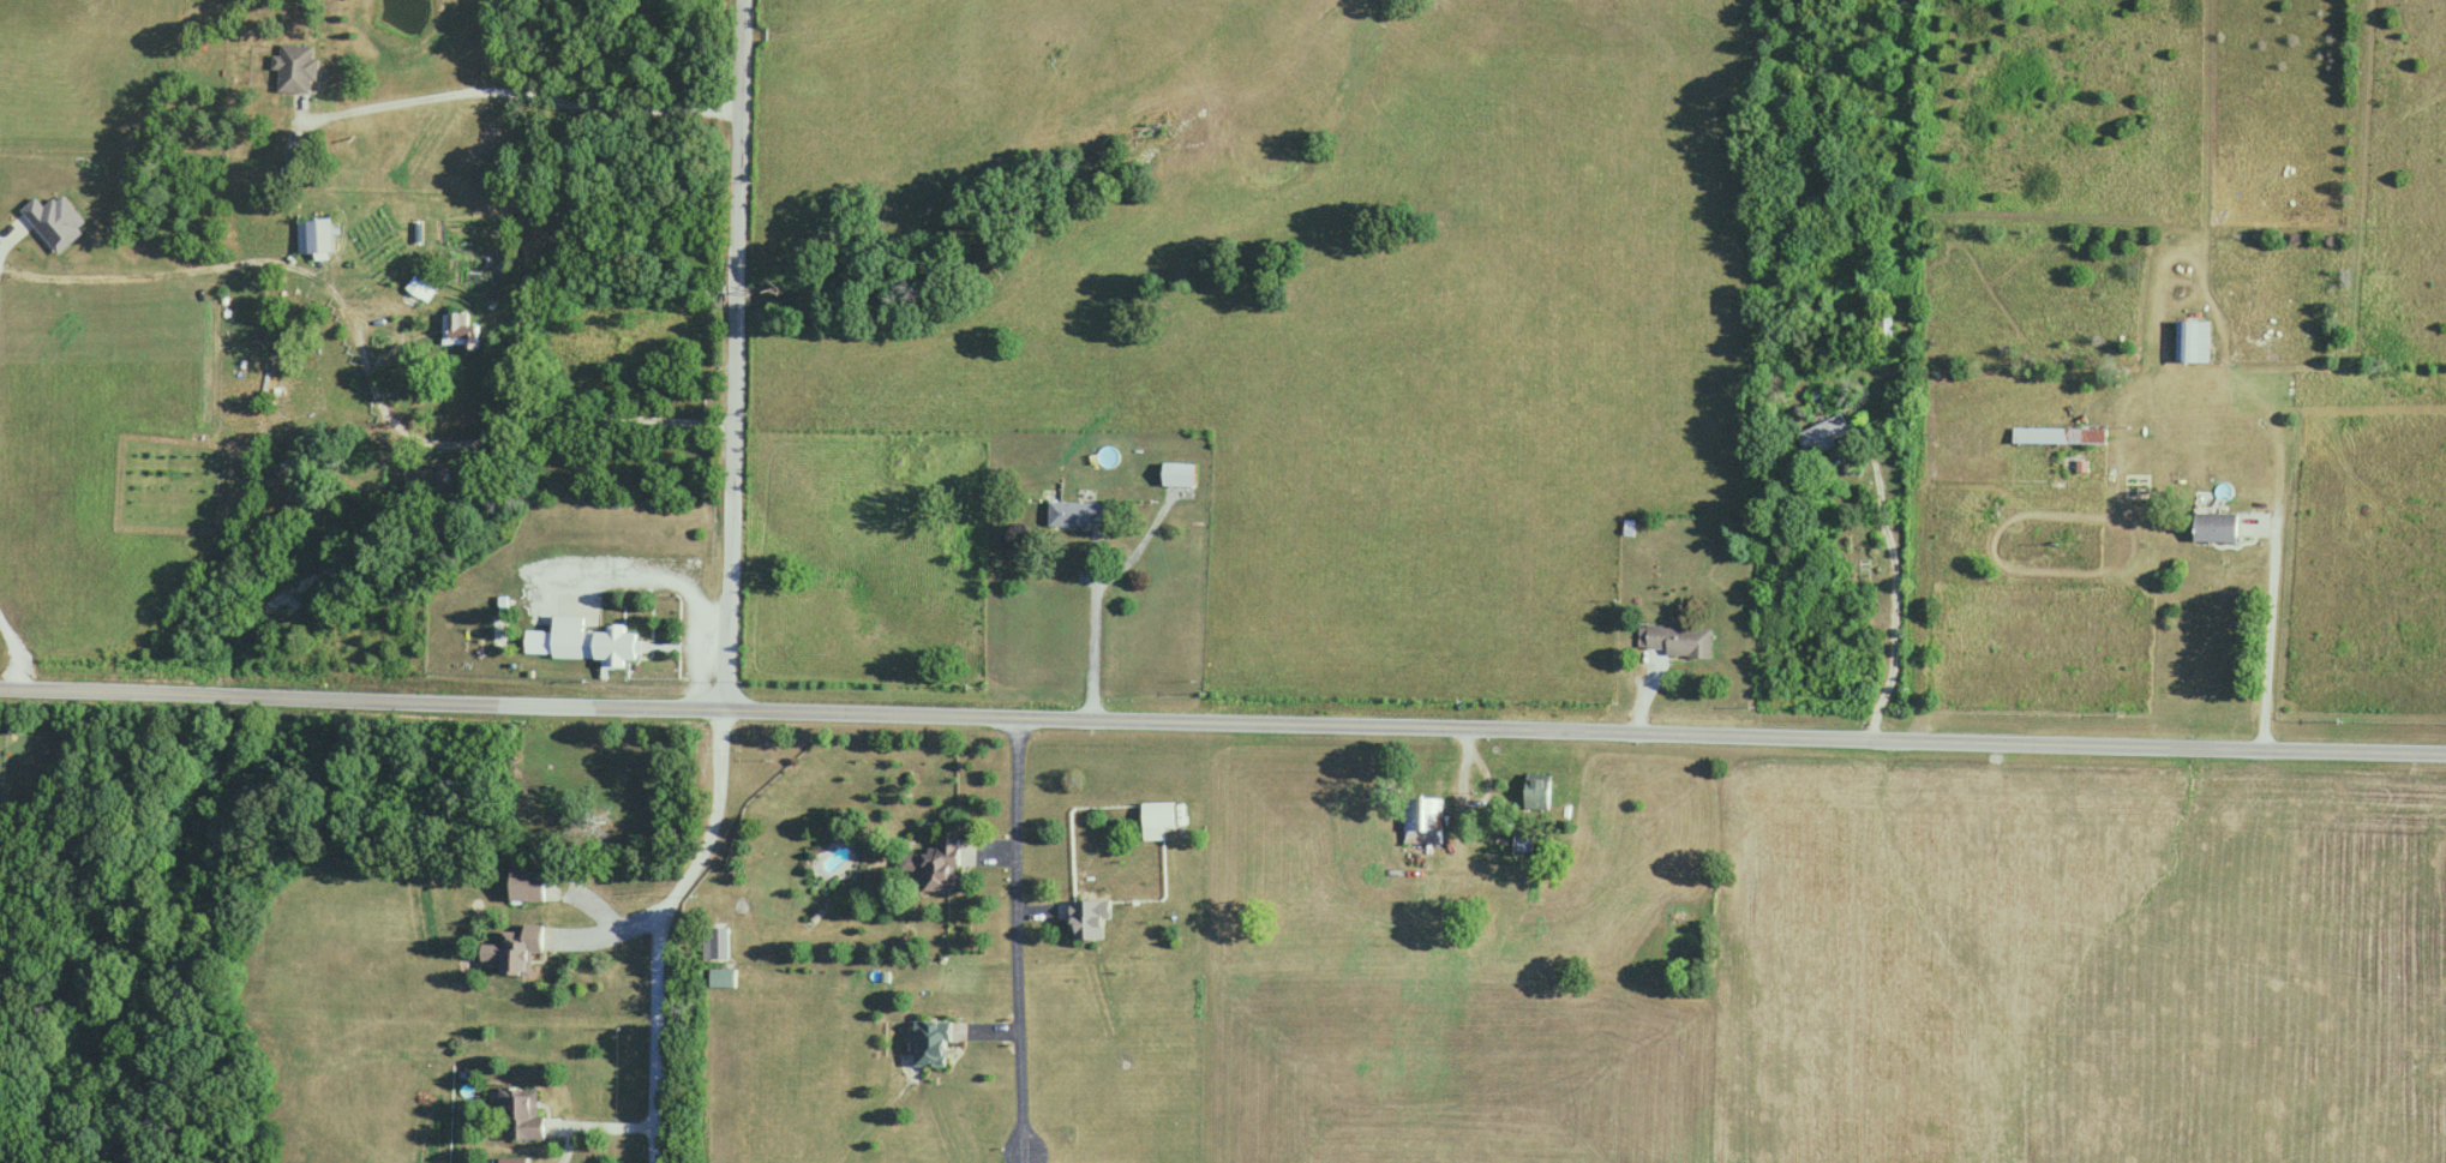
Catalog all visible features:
building: (295, 68)
road: (521, 91)
building: (314, 235)
road: (214, 264)
building: (457, 329)
building: (2190, 341)
road: (739, 355)
road: (534, 419)
building: (2058, 436)
building: (1815, 439)
building: (1177, 475)
building: (1074, 515)
building: (2214, 527)
road: (1900, 595)
road: (2273, 625)
road: (1097, 628)
building: (1677, 641)
building: (583, 642)
road: (16, 655)
road: (1222, 725)
building: (1536, 791)
building: (1423, 820)
building: (1157, 821)
building: (934, 867)
building: (526, 885)
building: (1087, 919)
road: (615, 927)
road: (664, 927)
road: (1021, 941)
building: (719, 943)
building: (514, 951)
building: (721, 978)
building: (929, 1043)
building: (520, 1115)
road: (600, 1122)

